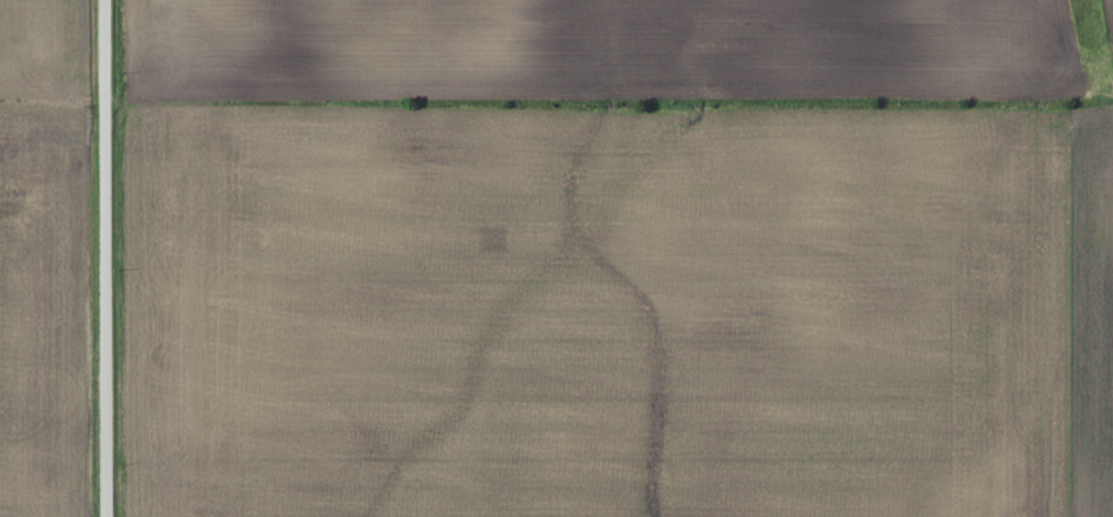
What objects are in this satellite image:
road: (93, 258)

